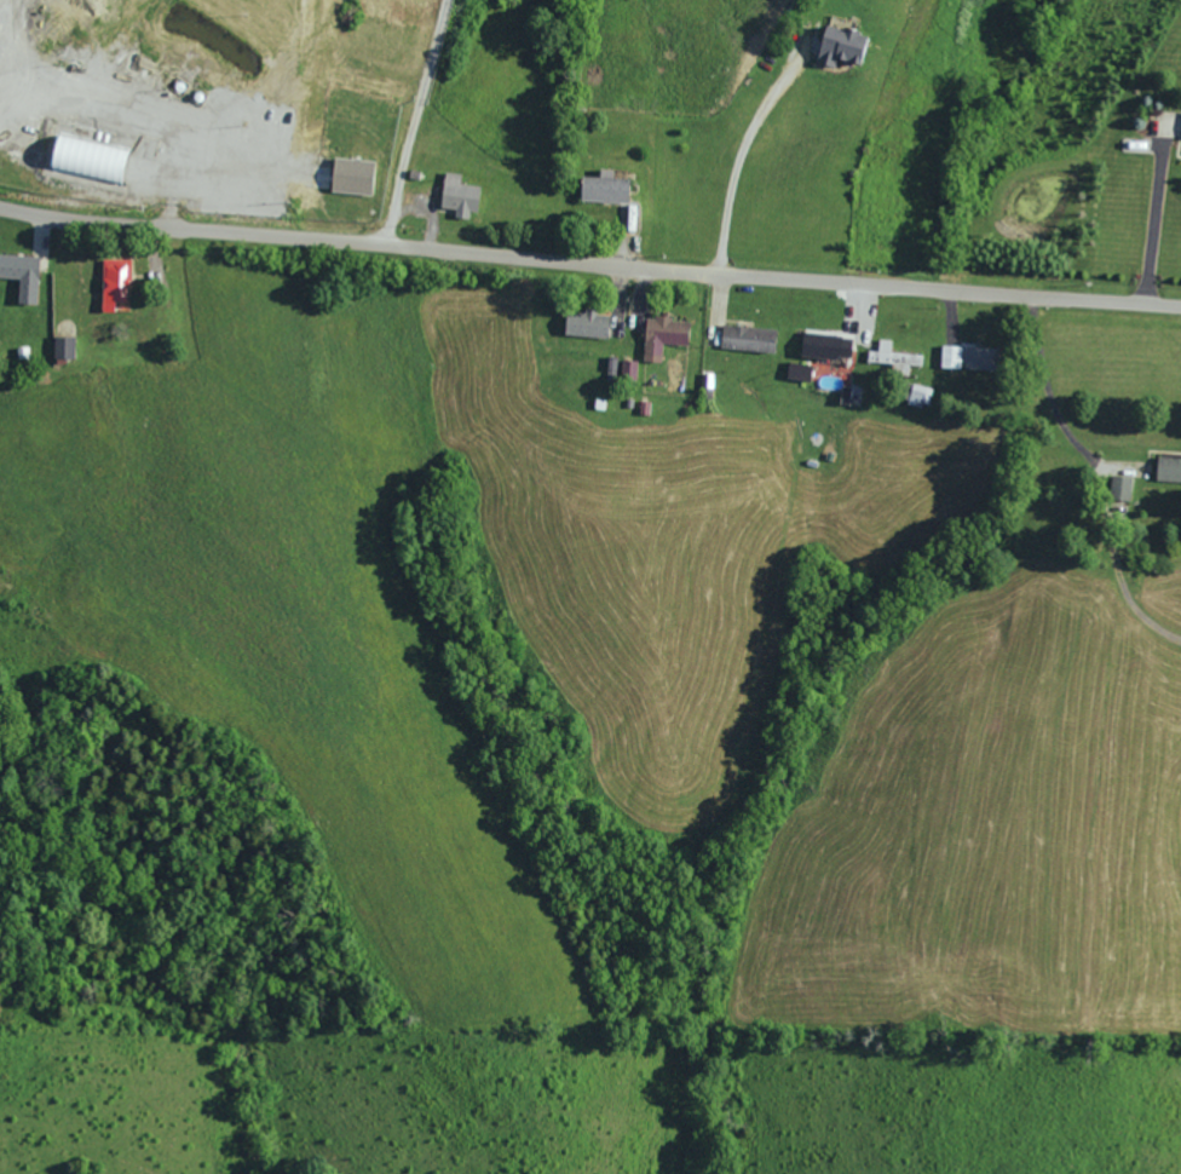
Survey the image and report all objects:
building: (839, 46)
building: (86, 157)
road: (738, 159)
building: (351, 175)
building: (601, 188)
building: (456, 196)
road: (1151, 224)
road: (589, 261)
building: (21, 275)
building: (584, 324)
building: (662, 335)
building: (745, 338)
building: (825, 346)
building: (63, 347)
building: (889, 357)
building: (949, 357)
building: (978, 358)
building: (610, 367)
building: (627, 369)
building: (918, 395)
building: (1168, 467)
building: (1118, 487)

